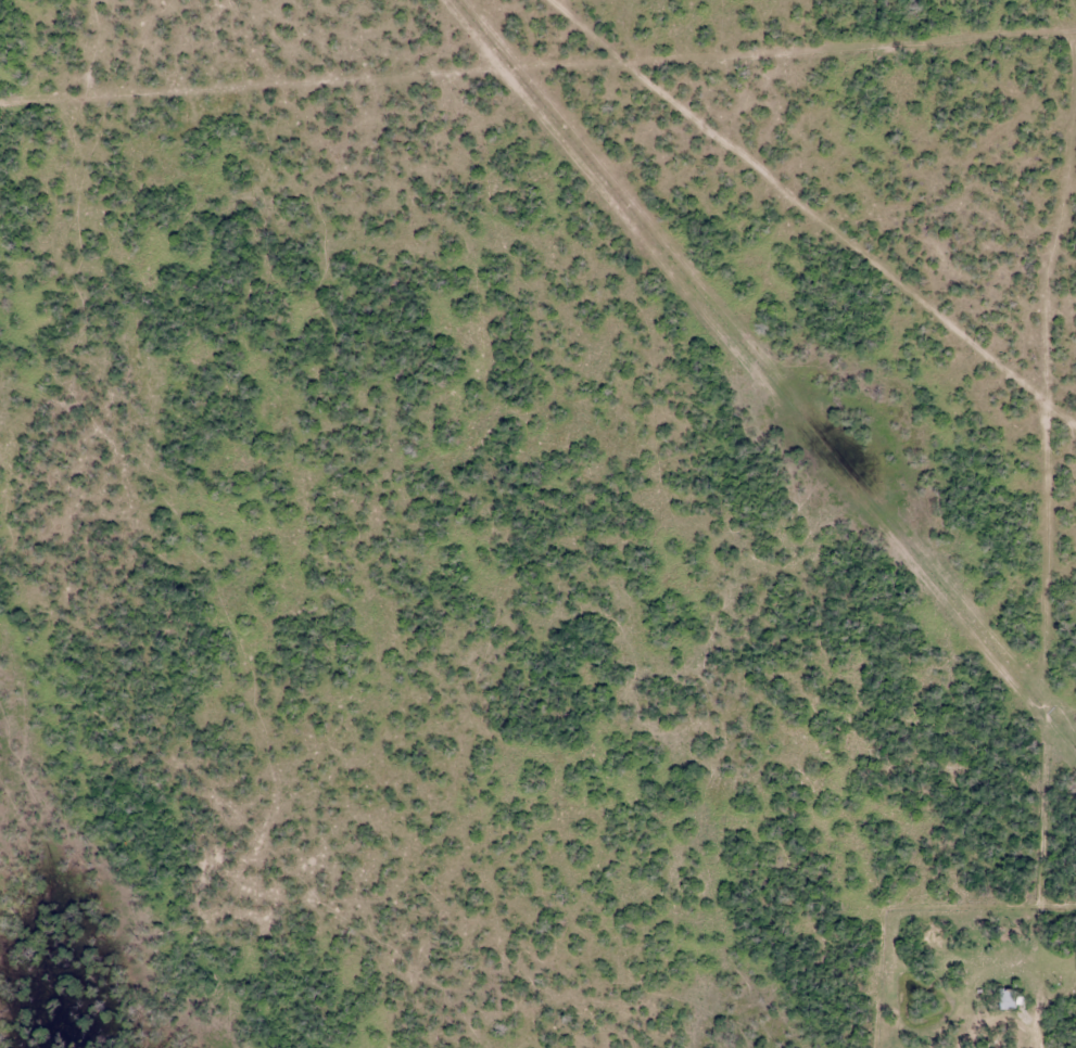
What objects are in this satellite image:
building: (1003, 1001)

